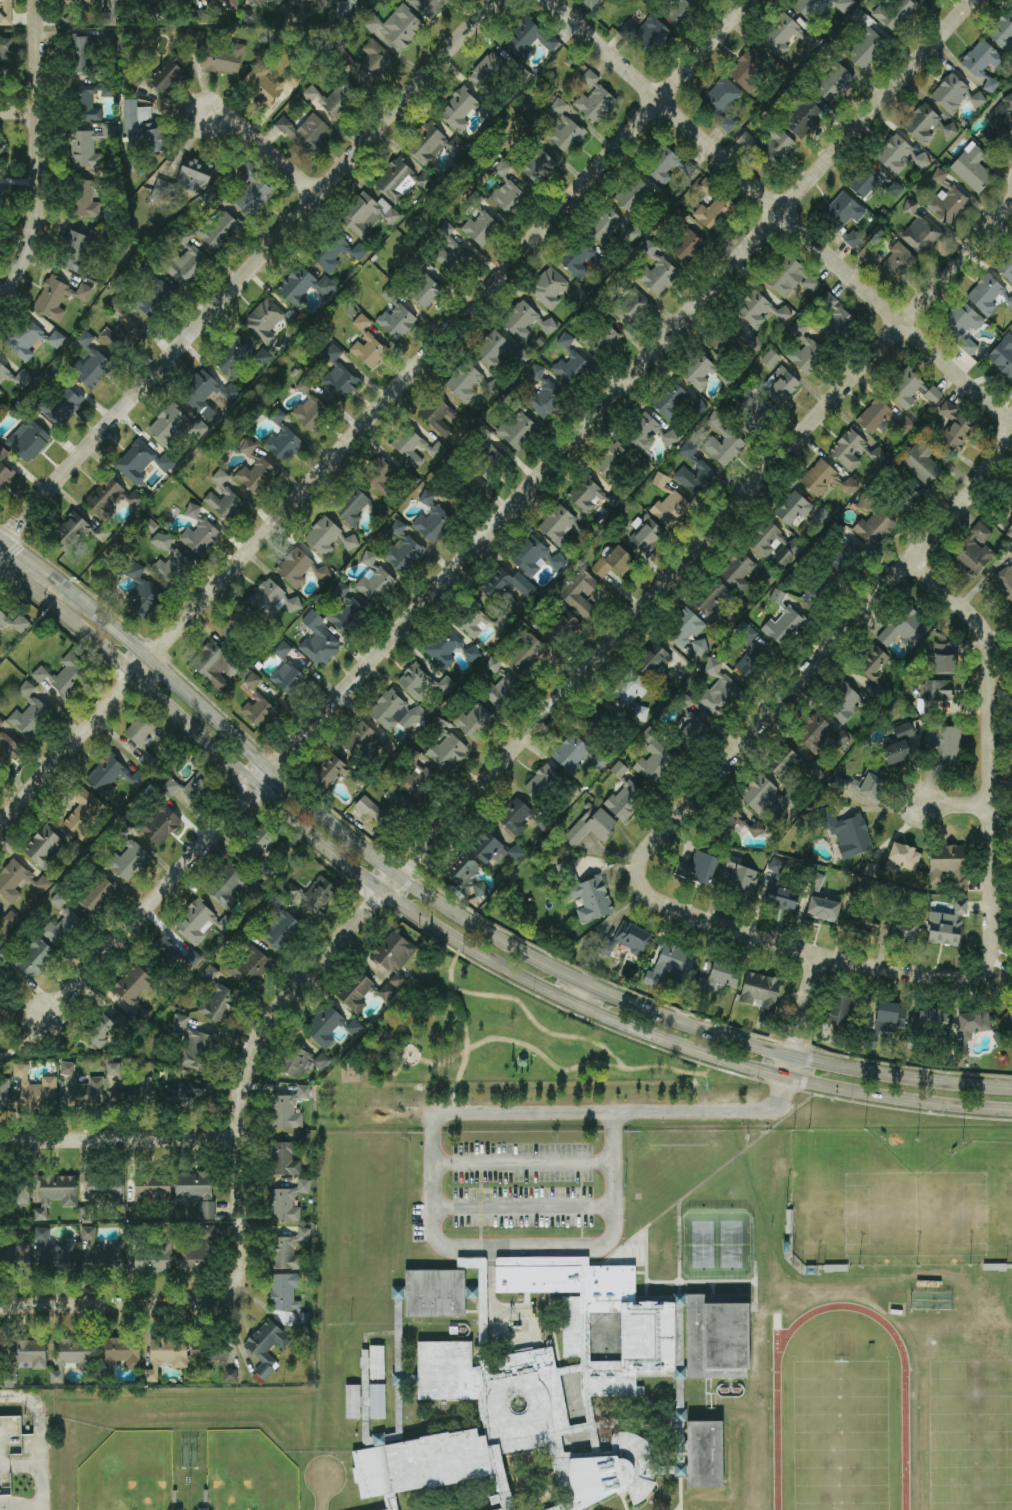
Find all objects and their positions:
building: (170, 0)
building: (926, 0)
building: (77, 1)
building: (315, 2)
building: (593, 2)
building: (844, 5)
building: (428, 7)
building: (810, 7)
building: (346, 8)
building: (114, 11)
building: (6, 12)
building: (680, 12)
building: (895, 14)
building: (203, 15)
building: (250, 16)
building: (396, 27)
building: (1002, 31)
building: (646, 34)
building: (786, 36)
building: (529, 37)
building: (108, 38)
building: (865, 46)
building: (82, 54)
building: (5, 55)
building: (223, 58)
building: (981, 58)
building: (372, 63)
building: (488, 70)
building: (747, 70)
building: (167, 76)
building: (269, 82)
building: (834, 82)
building: (991, 85)
building: (951, 93)
building: (721, 97)
building: (332, 98)
building: (595, 99)
building: (978, 100)
building: (91, 102)
building: (459, 110)
road: (19, 111)
building: (802, 118)
building: (727, 124)
building: (921, 124)
building: (1000, 124)
building: (144, 128)
building: (565, 129)
building: (950, 130)
building: (305, 132)
building: (746, 141)
building: (434, 145)
building: (90, 146)
building: (775, 148)
building: (1, 149)
road: (265, 149)
road: (39, 154)
building: (921, 161)
building: (538, 166)
building: (668, 167)
building: (972, 168)
building: (939, 177)
building: (397, 180)
building: (425, 181)
building: (197, 182)
building: (862, 183)
building: (253, 191)
building: (508, 193)
building: (633, 194)
building: (1, 199)
building: (86, 199)
building: (949, 204)
building: (911, 207)
road: (781, 210)
building: (714, 212)
building: (843, 212)
building: (368, 214)
building: (482, 227)
building: (218, 228)
building: (921, 234)
building: (853, 239)
building: (688, 246)
building: (76, 252)
building: (338, 252)
building: (869, 255)
building: (454, 258)
building: (579, 259)
building: (896, 264)
building: (185, 265)
building: (1006, 266)
road: (248, 272)
building: (657, 273)
building: (785, 275)
building: (812, 286)
building: (304, 287)
building: (554, 289)
building: (426, 292)
building: (986, 293)
building: (59, 297)
building: (153, 299)
building: (632, 307)
building: (756, 310)
building: (833, 315)
building: (264, 321)
building: (397, 321)
building: (526, 321)
building: (362, 322)
building: (963, 326)
building: (120, 334)
building: (600, 338)
building: (25, 339)
building: (56, 339)
building: (85, 339)
building: (722, 343)
building: (369, 350)
building: (492, 350)
building: (806, 355)
building: (1003, 356)
building: (235, 357)
building: (770, 359)
building: (572, 368)
building: (92, 369)
building: (698, 371)
building: (537, 372)
building: (339, 375)
building: (15, 377)
building: (470, 383)
building: (305, 385)
building: (781, 385)
building: (907, 388)
building: (199, 390)
building: (0, 392)
building: (230, 392)
building: (933, 395)
building: (544, 399)
building: (671, 400)
building: (62, 405)
building: (311, 413)
road: (377, 414)
building: (443, 416)
building: (876, 417)
building: (755, 418)
building: (176, 427)
building: (956, 428)
building: (518, 431)
building: (643, 433)
building: (482, 434)
building: (670, 438)
building: (28, 440)
building: (283, 441)
building: (722, 441)
building: (248, 447)
building: (416, 448)
building: (848, 450)
building: (877, 456)
building: (611, 458)
building: (142, 462)
building: (922, 462)
building: (489, 463)
building: (702, 467)
building: (256, 473)
building: (5, 475)
building: (821, 478)
building: (660, 480)
building: (849, 486)
building: (587, 495)
building: (110, 498)
building: (225, 499)
building: (614, 500)
building: (905, 502)
building: (1011, 504)
building: (353, 506)
building: (793, 508)
road: (510, 509)
building: (671, 509)
building: (193, 511)
building: (433, 524)
building: (557, 525)
traffic signals: (14, 528)
building: (873, 528)
building: (397, 529)
building: (1010, 531)
building: (70, 532)
building: (646, 533)
road: (2, 537)
building: (328, 537)
building: (201, 538)
building: (766, 540)
building: (162, 541)
building: (976, 550)
traffic signals: (21, 552)
building: (788, 552)
building: (405, 553)
building: (1011, 553)
building: (530, 556)
building: (845, 557)
building: (369, 558)
road: (31, 560)
building: (614, 562)
building: (295, 568)
building: (171, 569)
building: (134, 570)
building: (739, 572)
building: (322, 574)
building: (1005, 583)
building: (507, 585)
building: (376, 586)
building: (341, 590)
building: (816, 592)
building: (581, 594)
building: (711, 596)
building: (777, 596)
building: (145, 598)
building: (267, 598)
building: (294, 604)
building: (348, 616)
building: (3, 619)
building: (314, 619)
building: (475, 622)
building: (20, 623)
building: (503, 624)
building: (784, 626)
building: (237, 627)
building: (563, 627)
building: (686, 629)
building: (905, 629)
building: (320, 647)
building: (700, 647)
building: (444, 648)
road: (826, 653)
building: (472, 654)
building: (527, 654)
building: (751, 658)
building: (653, 659)
building: (944, 659)
building: (873, 663)
building: (493, 664)
building: (288, 673)
building: (65, 676)
building: (416, 682)
building: (446, 685)
building: (630, 687)
building: (719, 690)
building: (503, 691)
building: (934, 695)
building: (257, 703)
building: (845, 704)
building: (396, 712)
building: (30, 713)
road: (546, 715)
building: (603, 715)
building: (475, 721)
building: (1, 722)
building: (688, 729)
building: (140, 730)
building: (814, 733)
building: (360, 739)
building: (899, 745)
building: (946, 745)
building: (8, 749)
road: (992, 749)
building: (447, 753)
building: (571, 753)
building: (146, 760)
building: (655, 761)
building: (782, 761)
building: (618, 770)
building: (331, 771)
building: (112, 776)
building: (418, 781)
building: (542, 781)
building: (871, 782)
building: (191, 787)
building: (764, 796)
building: (624, 800)
road: (956, 805)
building: (386, 809)
building: (83, 814)
building: (516, 817)
building: (161, 825)
building: (745, 825)
building: (591, 826)
building: (850, 834)
building: (260, 843)
building: (44, 847)
building: (486, 847)
building: (516, 853)
building: (903, 858)
building: (128, 861)
building: (949, 865)
building: (776, 866)
building: (698, 868)
building: (462, 870)
building: (741, 877)
building: (13, 880)
building: (43, 884)
building: (226, 886)
building: (480, 889)
building: (320, 892)
building: (467, 893)
building: (98, 895)
building: (590, 898)
building: (780, 899)
building: (823, 909)
building: (200, 921)
building: (61, 922)
building: (863, 923)
building: (947, 927)
building: (282, 930)
building: (904, 930)
road: (485, 933)
building: (632, 937)
road: (454, 940)
road: (803, 951)
building: (173, 952)
building: (5, 953)
building: (35, 957)
building: (393, 961)
building: (251, 967)
building: (670, 967)
building: (3, 976)
building: (719, 977)
building: (134, 990)
building: (356, 992)
building: (761, 993)
road: (578, 995)
building: (217, 998)
building: (841, 1010)
road: (801, 1016)
building: (890, 1017)
building: (933, 1019)
building: (1007, 1021)
building: (974, 1024)
building: (324, 1026)
road: (538, 1026)
building: (354, 1027)
building: (100, 1030)
road: (466, 1030)
building: (195, 1045)
road: (385, 1052)
road: (416, 1052)
fountain: (411, 1055)
park: (494, 1058)
building: (520, 1060)
building: (303, 1063)
road: (555, 1067)
road: (707, 1085)
building: (130, 1086)
building: (83, 1089)
building: (35, 1090)
building: (4, 1093)
building: (184, 1093)
building: (289, 1109)
road: (121, 1140)
road: (429, 1144)
building: (284, 1159)
road: (521, 1162)
road: (710, 1176)
building: (303, 1186)
building: (152, 1188)
building: (105, 1191)
building: (196, 1191)
building: (20, 1193)
building: (56, 1194)
building: (284, 1206)
road: (522, 1211)
park: (914, 1214)
building: (42, 1234)
park: (702, 1245)
park: (730, 1245)
road: (679, 1246)
building: (102, 1250)
building: (289, 1250)
building: (197, 1251)
building: (59, 1254)
building: (16, 1255)
building: (155, 1260)
road: (639, 1273)
road: (489, 1278)
road: (673, 1282)
road: (714, 1288)
road: (646, 1289)
road: (756, 1290)
building: (285, 1291)
road: (119, 1305)
road: (494, 1306)
road: (469, 1312)
building: (303, 1319)
road: (530, 1321)
road: (553, 1329)
road: (371, 1334)
building: (716, 1336)
road: (513, 1340)
building: (267, 1346)
building: (123, 1352)
building: (29, 1353)
building: (166, 1355)
building: (71, 1356)
building: (209, 1356)
building: (376, 1362)
building: (363, 1363)
building: (230, 1375)
building: (532, 1392)
building: (678, 1394)
building: (351, 1402)
building: (376, 1402)
park: (840, 1435)
park: (970, 1435)
track: (777, 1441)
building: (703, 1455)
road: (40, 1466)
park: (127, 1472)
park: (247, 1472)
road: (680, 1493)
building: (203, 1496)
building: (175, 1497)
road: (625, 1501)
road: (11, 1507)
road: (10, 1508)
building: (178, 1509)
building: (200, 1509)

